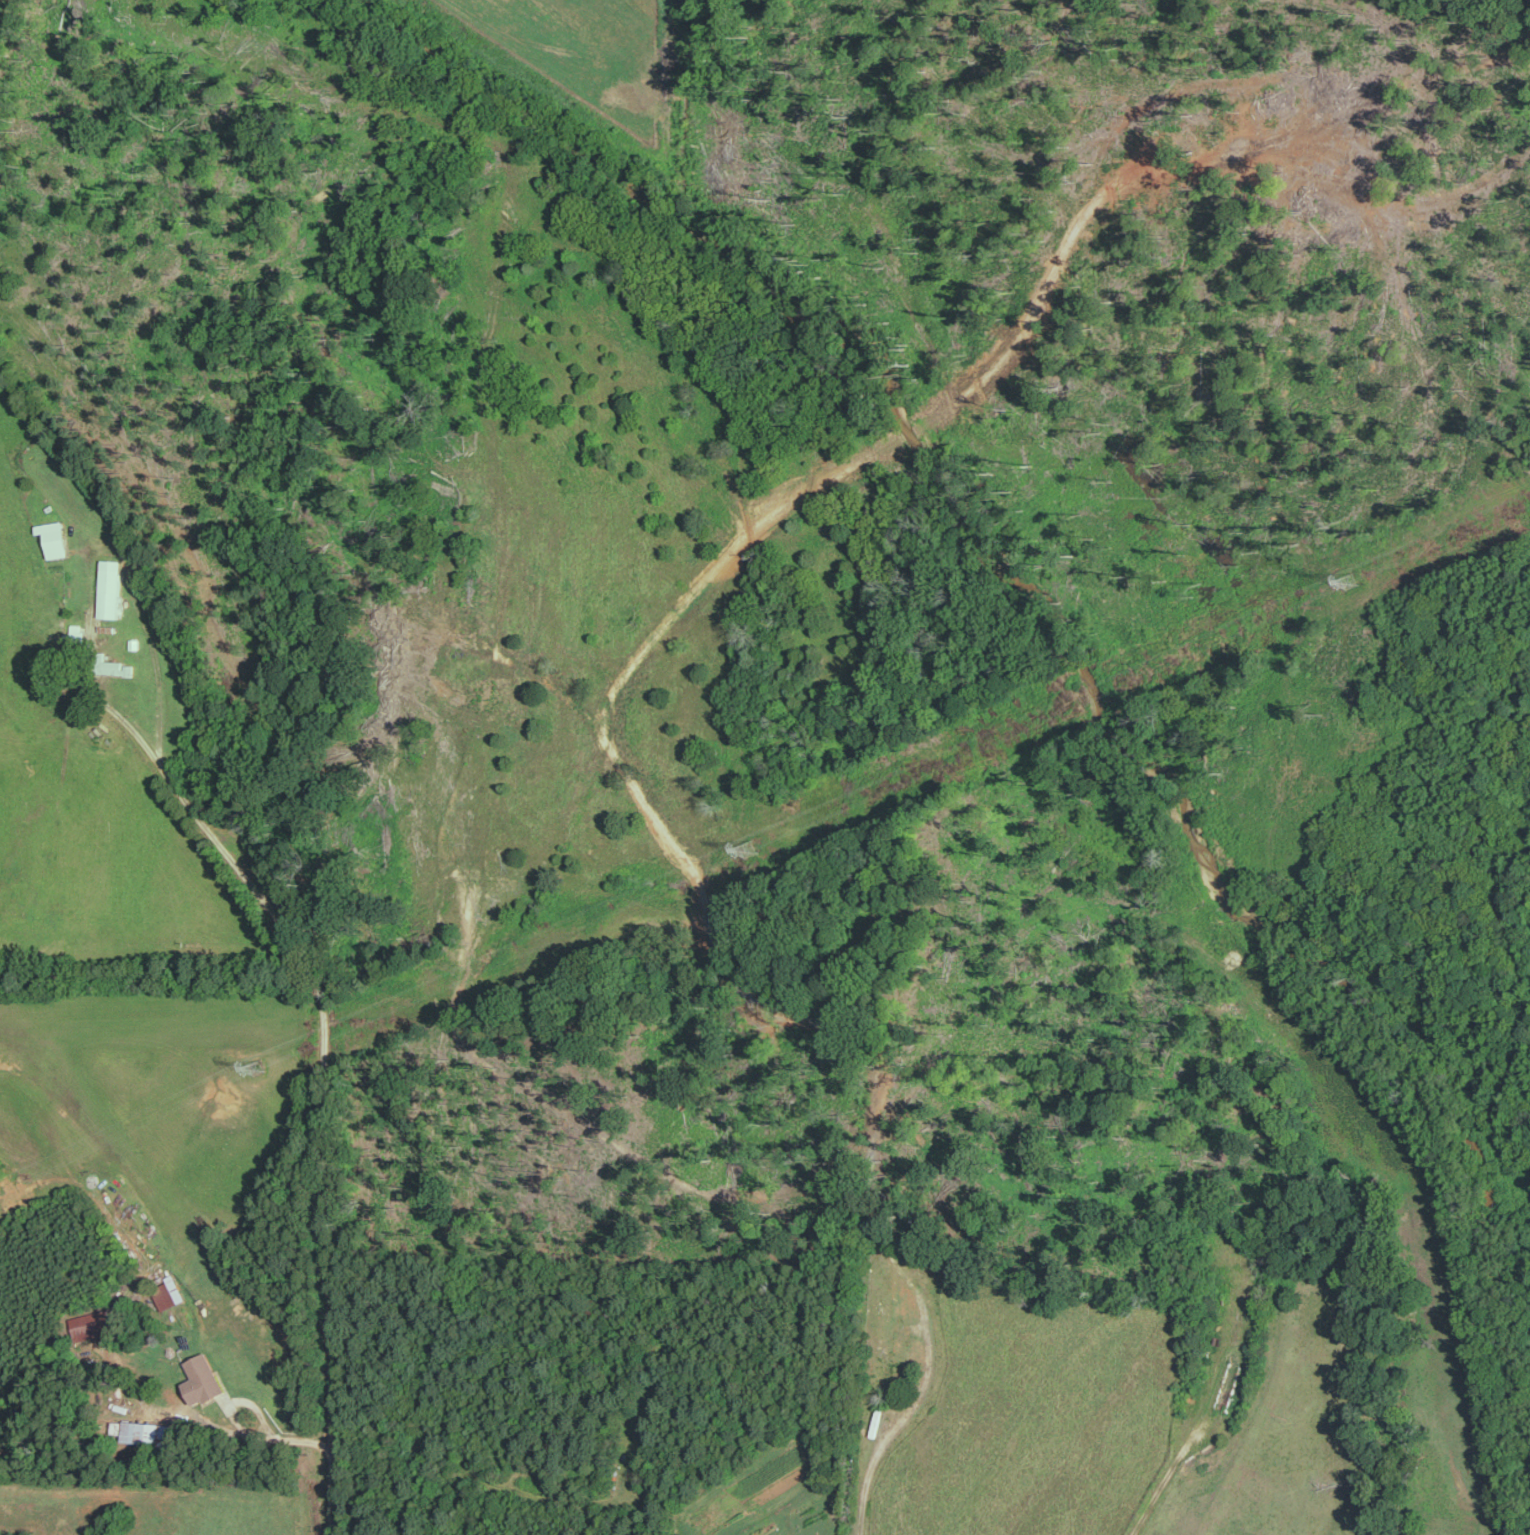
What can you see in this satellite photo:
building: (56, 537)
power tower: (1347, 579)
building: (111, 587)
power tower: (746, 851)
airport runway: (140, 1020)
power tower: (254, 1068)
road: (325, 1109)
building: (173, 1291)
building: (93, 1325)
building: (204, 1379)
building: (149, 1433)
road: (286, 1438)
road: (862, 1508)

